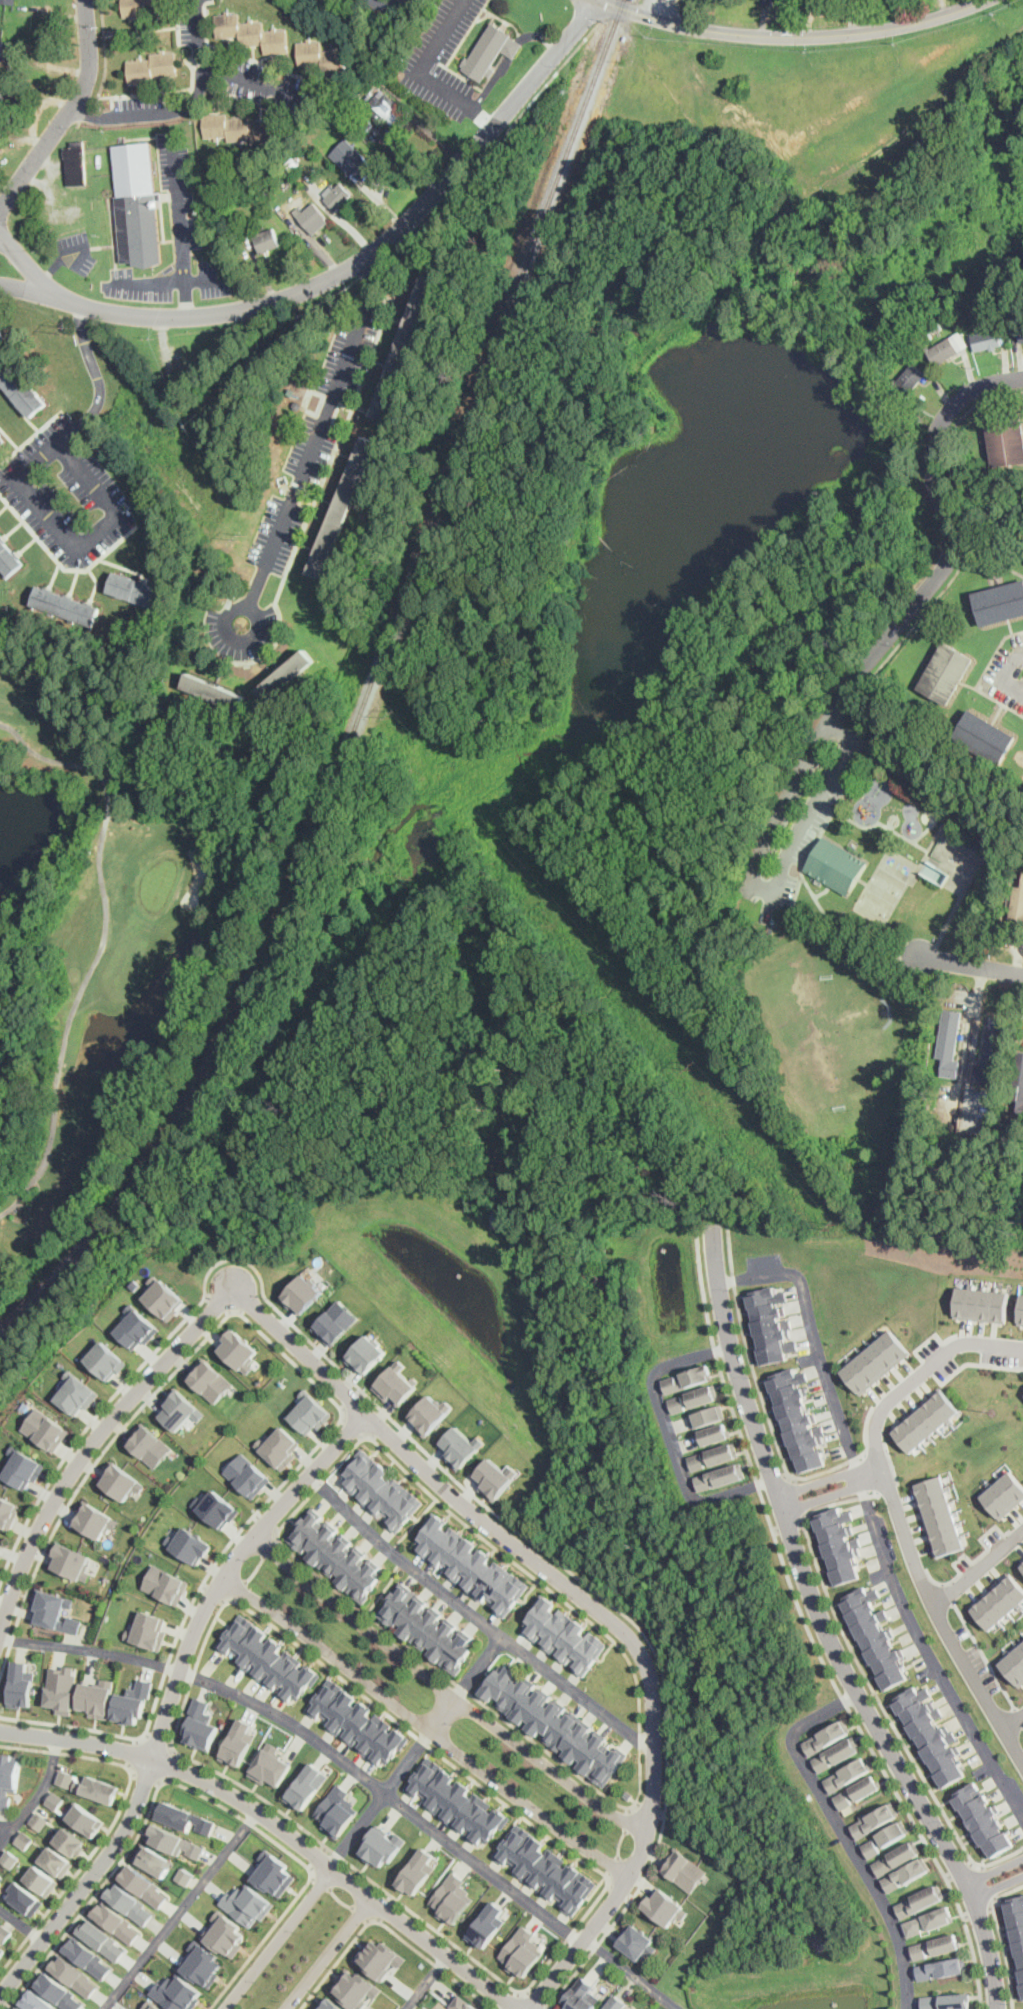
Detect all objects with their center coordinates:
building: (8, 1)
building: (390, 5)
building: (142, 6)
building: (251, 33)
road: (539, 33)
road: (792, 35)
road: (511, 48)
building: (6, 49)
building: (490, 51)
road: (106, 55)
building: (321, 57)
road: (423, 64)
building: (152, 67)
road: (230, 71)
road: (489, 82)
building: (2, 102)
road: (171, 107)
building: (387, 107)
road: (91, 112)
road: (69, 113)
road: (483, 118)
building: (239, 129)
road: (487, 151)
building: (352, 158)
building: (292, 163)
building: (76, 164)
building: (338, 196)
building: (137, 204)
road: (177, 204)
building: (311, 216)
building: (267, 240)
road: (73, 253)
road: (49, 270)
road: (340, 272)
road: (169, 283)
road: (26, 288)
road: (185, 296)
building: (936, 325)
power tower: (65, 329)
building: (1021, 331)
building: (1, 333)
building: (986, 339)
building: (960, 340)
building: (407, 343)
building: (943, 351)
road: (93, 366)
building: (910, 379)
building: (21, 388)
building: (291, 391)
building: (296, 404)
road: (69, 432)
building: (1, 440)
building: (1006, 441)
road: (312, 444)
building: (343, 507)
road: (116, 515)
power tower: (242, 538)
road: (952, 538)
building: (8, 559)
road: (960, 564)
building: (138, 592)
building: (1000, 603)
building: (65, 606)
building: (945, 673)
parking lot: (1007, 674)
building: (285, 676)
road: (1003, 676)
building: (213, 692)
railway: (365, 697)
road: (998, 701)
power tower: (392, 711)
building: (984, 737)
parking lot: (805, 808)
building: (836, 866)
road: (802, 870)
building: (934, 872)
road: (775, 889)
park: (880, 895)
building: (1018, 904)
park: (127, 923)
road: (971, 965)
park: (845, 977)
road: (973, 1034)
building: (950, 1043)
road: (725, 1051)
building: (992, 1051)
power tower: (695, 1066)
building: (1018, 1086)
power tower: (832, 1227)
building: (303, 1293)
building: (163, 1296)
building: (979, 1303)
building: (1020, 1310)
building: (335, 1321)
building: (768, 1324)
building: (137, 1326)
road: (813, 1339)
building: (236, 1347)
building: (367, 1353)
road: (749, 1355)
building: (107, 1360)
building: (874, 1361)
road: (918, 1372)
building: (211, 1378)
building: (687, 1379)
building: (398, 1384)
road: (323, 1390)
building: (75, 1393)
building: (692, 1398)
building: (309, 1410)
power tower: (991, 1411)
building: (179, 1412)
building: (434, 1414)
building: (700, 1418)
building: (794, 1418)
building: (924, 1420)
building: (19, 1421)
road: (356, 1426)
building: (44, 1427)
road: (672, 1436)
building: (703, 1438)
building: (149, 1444)
building: (465, 1444)
building: (279, 1446)
road: (428, 1452)
building: (711, 1457)
road: (850, 1459)
building: (21, 1466)
road: (427, 1468)
road: (871, 1472)
building: (246, 1475)
building: (497, 1477)
building: (719, 1477)
building: (118, 1480)
road: (831, 1485)
building: (379, 1488)
building: (1004, 1494)
road: (796, 1498)
building: (217, 1509)
building: (8, 1511)
building: (940, 1514)
building: (92, 1521)
road: (788, 1525)
building: (0, 1541)
building: (191, 1545)
building: (837, 1545)
road: (269, 1546)
building: (0, 1554)
building: (334, 1554)
building: (69, 1560)
building: (1022, 1563)
building: (474, 1565)
road: (979, 1568)
road: (254, 1569)
building: (164, 1582)
road: (237, 1591)
building: (1000, 1601)
building: (54, 1612)
road: (475, 1616)
road: (941, 1620)
building: (426, 1625)
building: (148, 1627)
road: (824, 1628)
road: (808, 1631)
building: (563, 1635)
building: (874, 1636)
road: (200, 1648)
road: (90, 1649)
road: (928, 1650)
road: (985, 1654)
building: (265, 1656)
road: (859, 1662)
building: (1015, 1663)
building: (20, 1683)
building: (60, 1687)
road: (446, 1688)
road: (170, 1694)
building: (94, 1697)
building: (130, 1704)
road: (639, 1708)
road: (1019, 1716)
building: (357, 1721)
building: (551, 1721)
road: (1014, 1721)
building: (198, 1726)
road: (425, 1726)
building: (929, 1736)
building: (826, 1738)
road: (155, 1740)
building: (237, 1744)
road: (132, 1751)
road: (417, 1752)
building: (835, 1754)
road: (168, 1766)
building: (270, 1767)
building: (848, 1773)
road: (145, 1776)
building: (65, 1777)
building: (9, 1779)
building: (305, 1785)
building: (95, 1788)
building: (857, 1790)
road: (194, 1792)
road: (37, 1794)
building: (627, 1794)
building: (453, 1799)
building: (54, 1800)
road: (649, 1808)
building: (336, 1810)
building: (184, 1817)
road: (627, 1817)
building: (83, 1818)
building: (984, 1818)
building: (40, 1820)
building: (873, 1820)
road: (112, 1821)
road: (7, 1825)
road: (278, 1826)
road: (434, 1828)
road: (844, 1833)
building: (889, 1834)
building: (25, 1839)
building: (69, 1841)
building: (174, 1841)
building: (383, 1844)
road: (618, 1844)
building: (869, 1848)
building: (896, 1857)
road: (1000, 1857)
building: (10, 1859)
building: (152, 1860)
building: (55, 1861)
building: (541, 1867)
road: (611, 1868)
road: (959, 1868)
building: (683, 1869)
building: (416, 1871)
building: (273, 1873)
building: (907, 1873)
building: (184, 1875)
building: (1, 1878)
road: (997, 1878)
building: (41, 1879)
road: (320, 1881)
road: (984, 1883)
building: (142, 1885)
building: (23, 1896)
building: (451, 1896)
road: (339, 1900)
building: (920, 1901)
building: (129, 1902)
building: (247, 1904)
building: (661, 1906)
road: (179, 1909)
road: (978, 1910)
road: (363, 1914)
building: (929, 1920)
road: (21, 1921)
building: (116, 1922)
building: (487, 1924)
road: (388, 1928)
building: (1016, 1930)
building: (4, 1933)
building: (224, 1933)
road: (1002, 1937)
road: (278, 1938)
building: (102, 1939)
building: (633, 1941)
building: (936, 1945)
building: (521, 1950)
building: (1, 1951)
road: (328, 1953)
building: (89, 1956)
building: (378, 1958)
building: (202, 1963)
building: (940, 1968)
building: (73, 1975)
road: (426, 1982)
building: (355, 1988)
building: (59, 1991)
building: (177, 1992)
building: (577, 1995)
road: (513, 1999)
road: (536, 2000)
building: (947, 2000)
building: (38, 2001)
road: (4, 2003)
building: (462, 2003)
building: (330, 2004)
building: (616, 2004)
building: (152, 2005)
building: (20, 2008)

